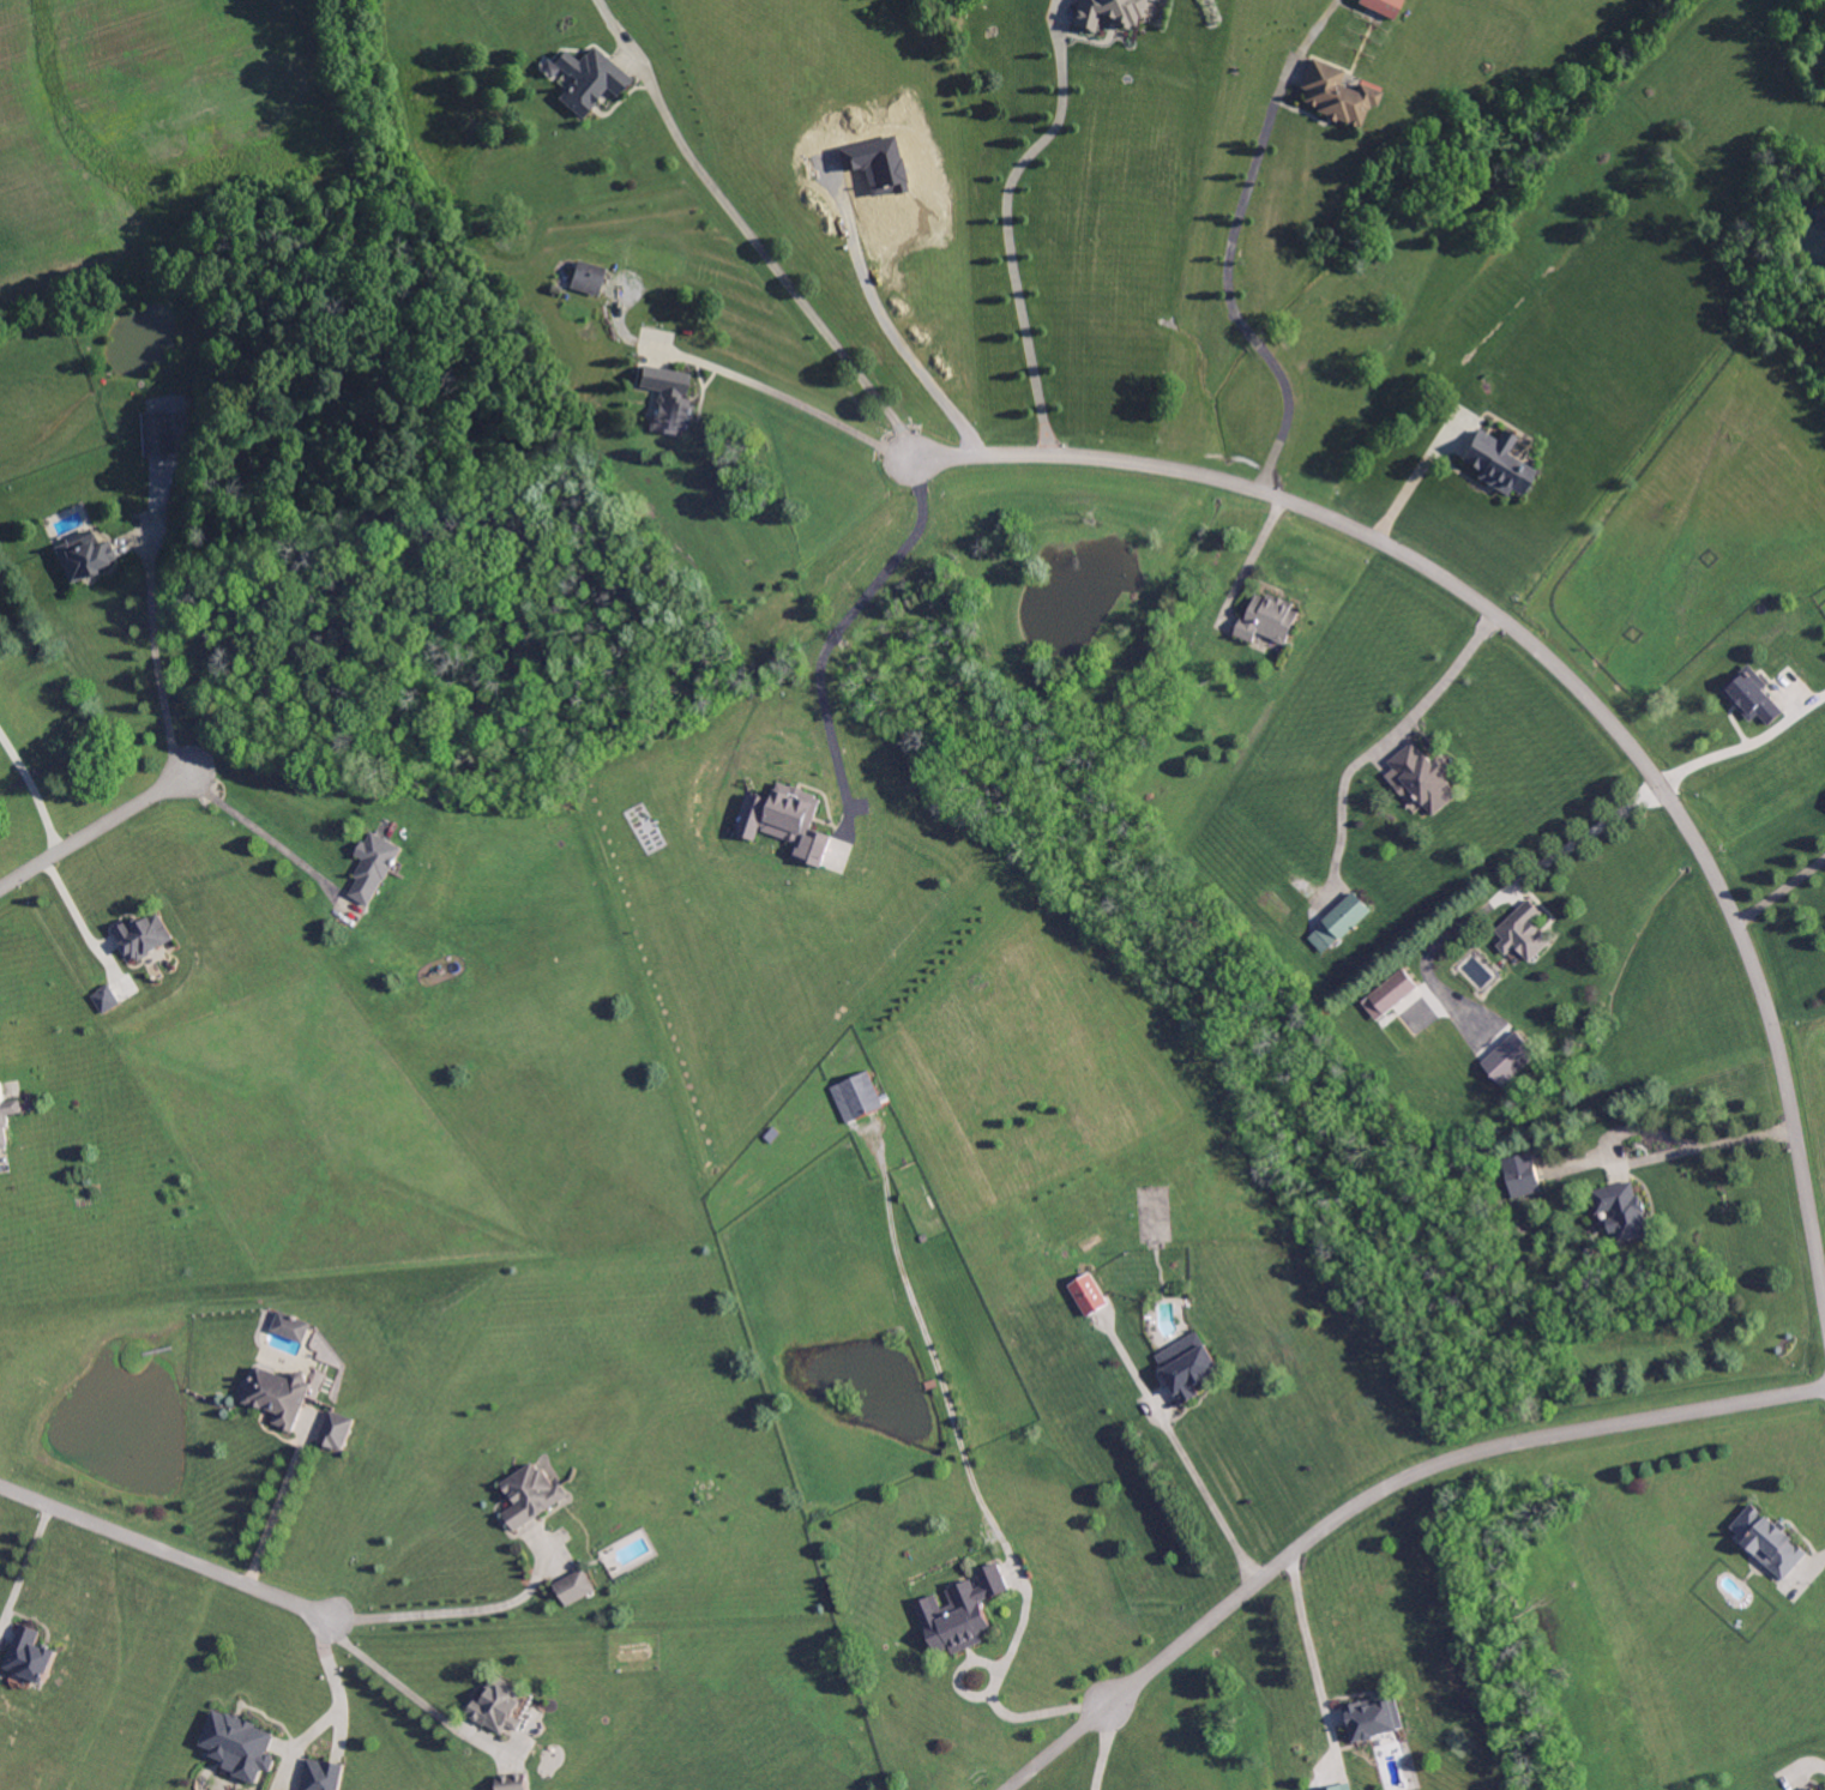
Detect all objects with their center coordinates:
building: (1384, 6)
building: (1108, 13)
building: (550, 70)
building: (590, 80)
building: (1337, 95)
road: (1006, 221)
road: (766, 253)
building: (589, 278)
road: (1224, 287)
road: (883, 320)
building: (669, 399)
road: (802, 404)
building: (158, 434)
building: (1498, 464)
road: (1407, 475)
building: (85, 558)
building: (1269, 621)
road: (825, 631)
road: (155, 650)
road: (1554, 662)
building: (1752, 698)
road: (1378, 737)
road: (1747, 746)
building: (1421, 781)
road: (29, 788)
road: (88, 822)
building: (790, 822)
road: (266, 834)
building: (374, 868)
road: (1782, 892)
road: (1498, 894)
building: (1339, 924)
building: (1524, 934)
building: (145, 936)
building: (1390, 996)
building: (106, 999)
building: (1510, 1060)
building: (857, 1099)
building: (7, 1115)
building: (773, 1135)
road: (1649, 1157)
building: (1523, 1182)
building: (1622, 1211)
building: (1089, 1296)
building: (293, 1327)
building: (1189, 1368)
building: (282, 1396)
building: (338, 1432)
building: (531, 1496)
road: (1372, 1497)
road: (1210, 1499)
road: (275, 1508)
building: (1769, 1543)
road: (168, 1549)
road: (23, 1560)
building: (576, 1587)
road: (457, 1611)
building: (962, 1614)
building: (32, 1656)
road: (1313, 1657)
road: (405, 1682)
road: (326, 1695)
road: (994, 1696)
building: (499, 1706)
building: (1374, 1719)
building: (241, 1746)
road: (1104, 1747)
building: (324, 1776)
building: (513, 1782)
building: (1345, 1788)
building: (1812, 1789)
building: (1814, 1789)

